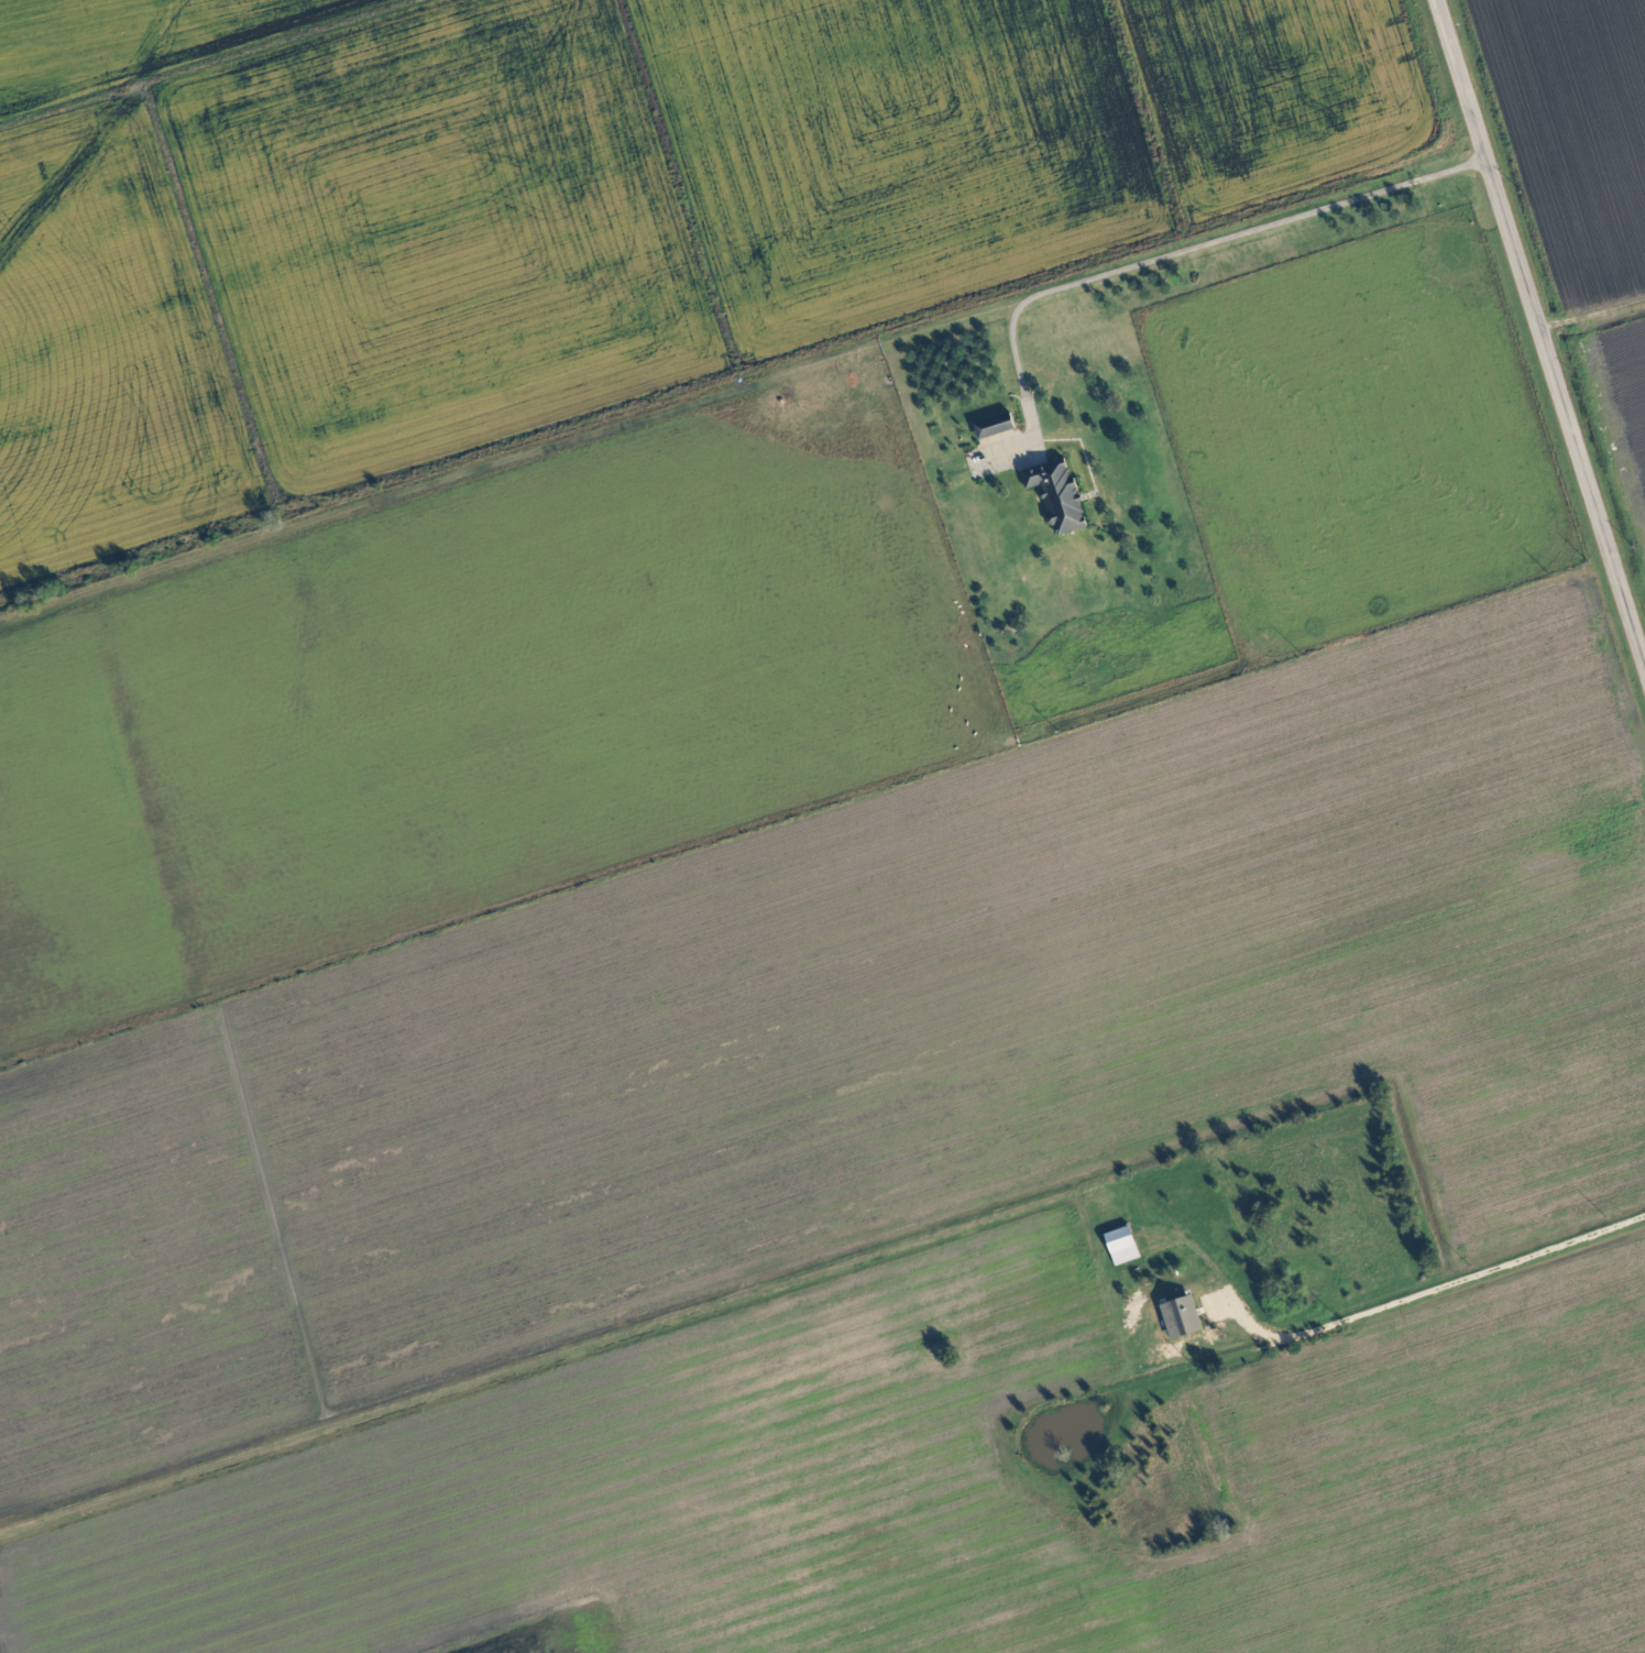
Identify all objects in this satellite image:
road: (1540, 339)
road: (744, 404)
building: (1061, 495)
building: (1123, 1246)
road: (1467, 1283)
building: (1183, 1317)

